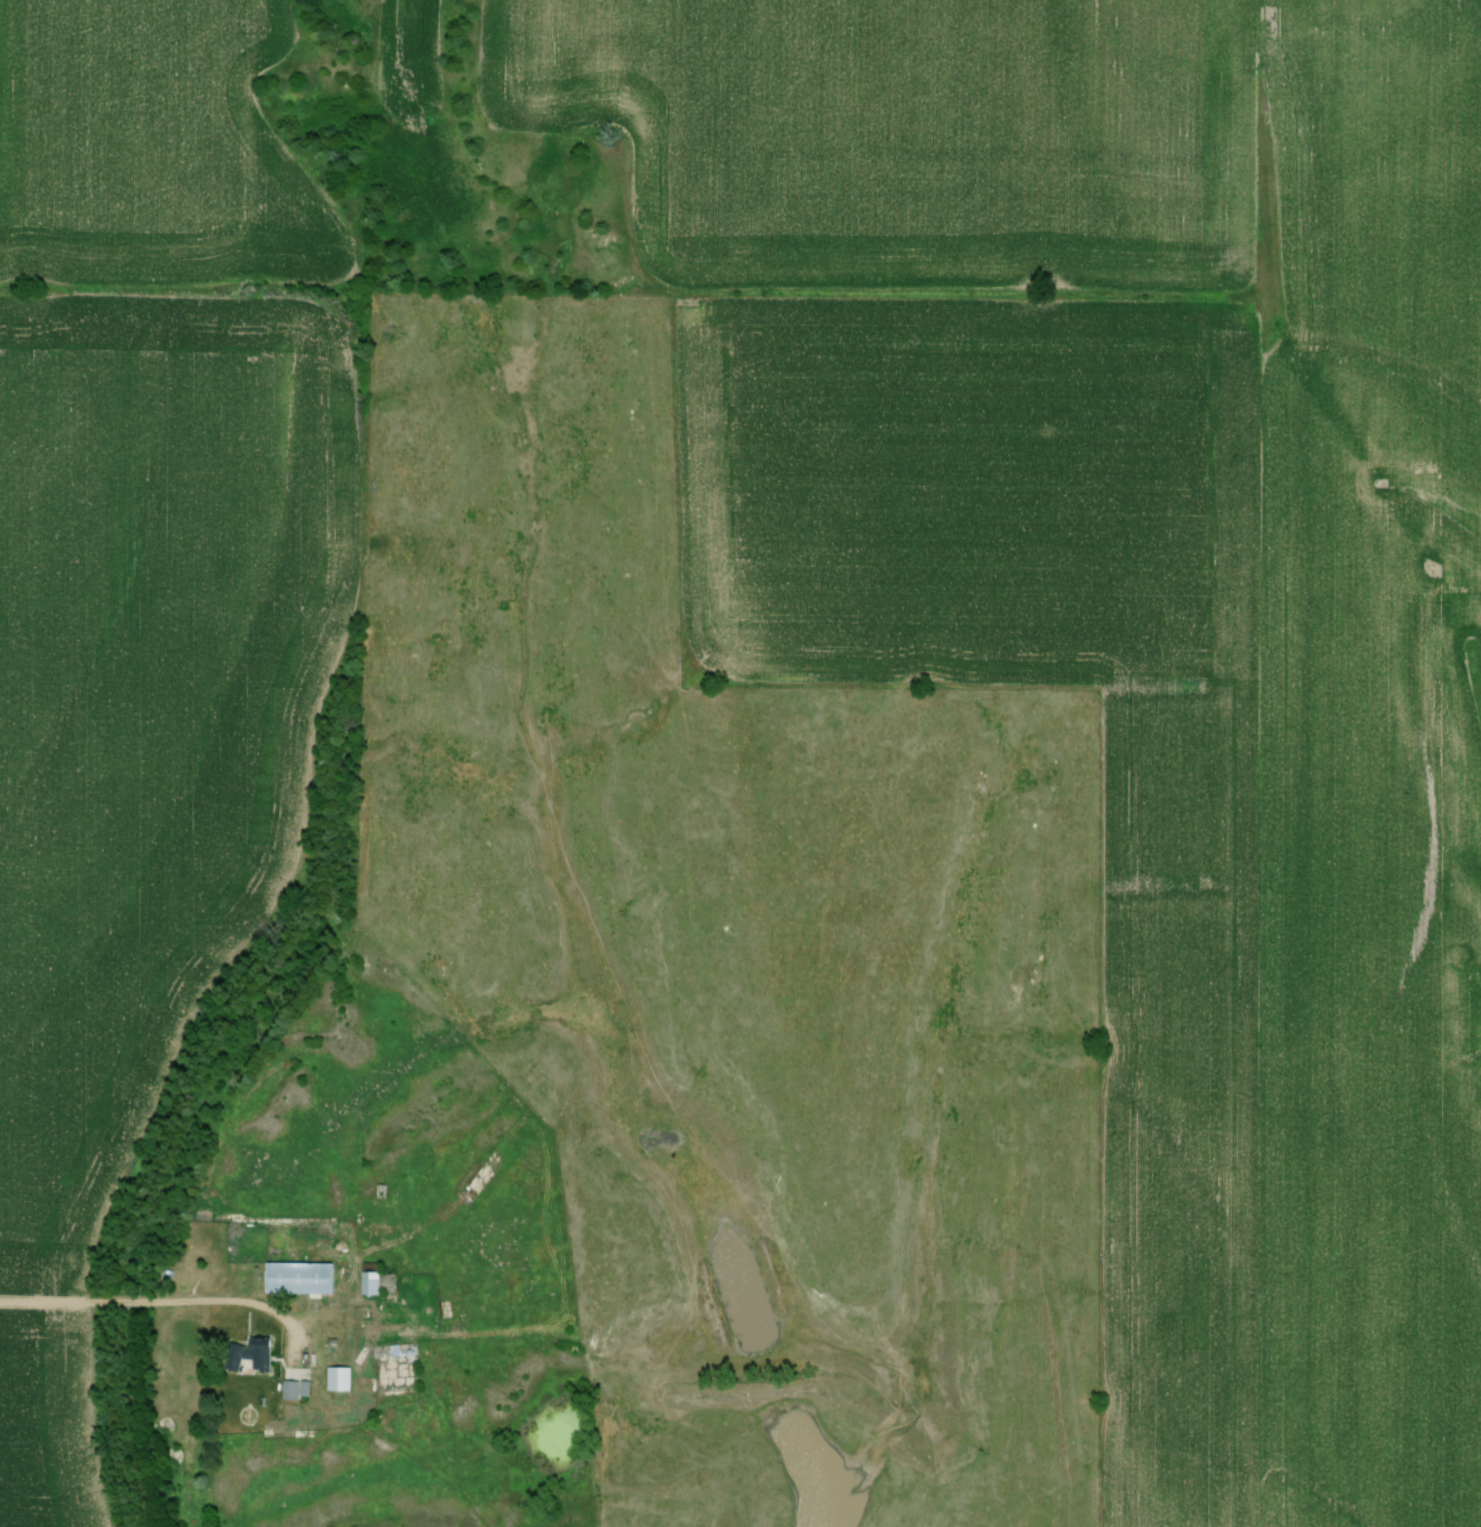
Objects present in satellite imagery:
road: (177, 277)
building: (302, 1277)
building: (382, 1283)
road: (166, 1302)
building: (398, 1350)
building: (254, 1354)
building: (342, 1378)
building: (293, 1388)

